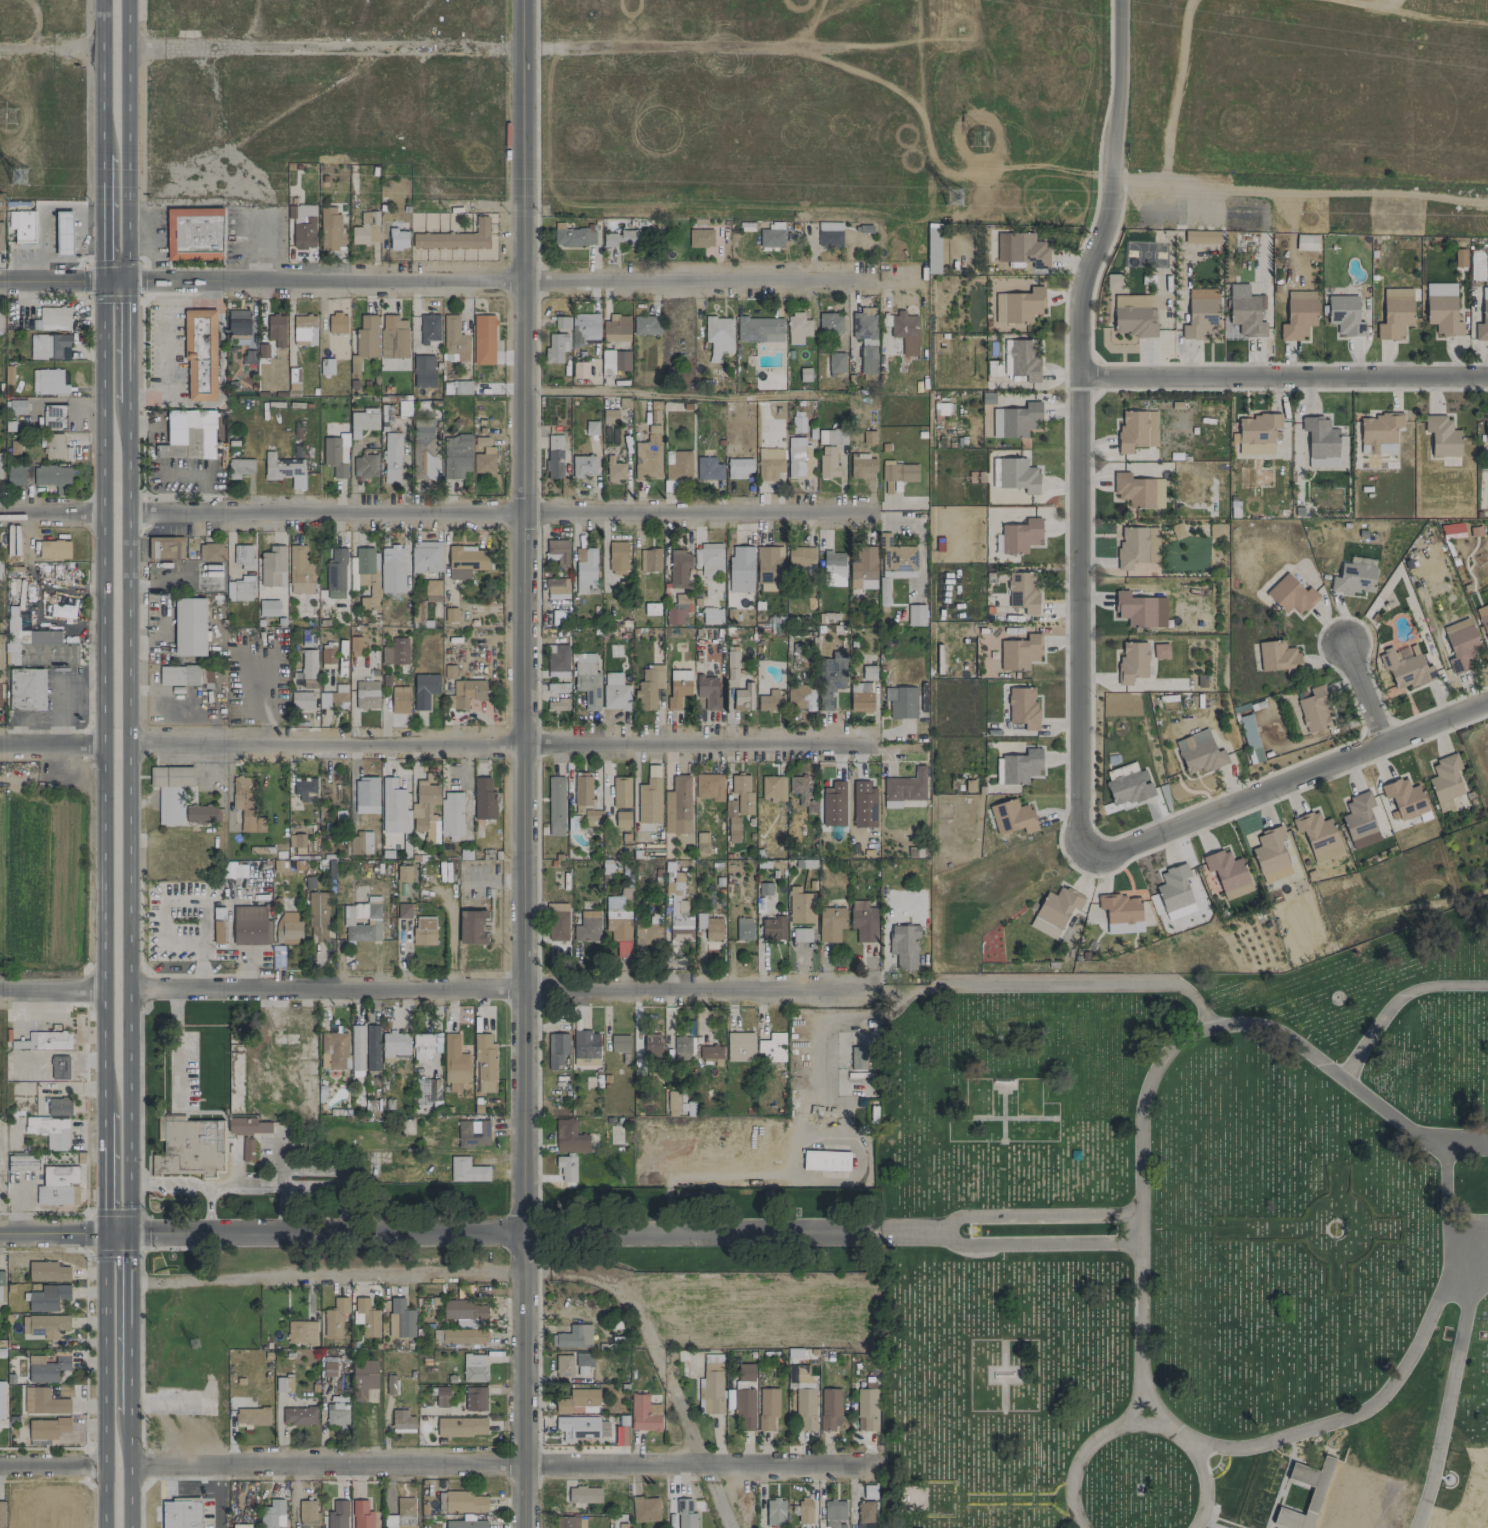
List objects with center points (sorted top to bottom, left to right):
road: (524, 25)
road: (50, 49)
road: (711, 50)
road: (327, 53)
road: (101, 68)
power tower: (7, 116)
power tower: (977, 139)
road: (127, 140)
power tower: (18, 177)
road: (1299, 192)
power tower: (954, 198)
road: (102, 208)
building: (22, 225)
building: (304, 226)
building: (331, 229)
building: (366, 229)
building: (193, 233)
building: (64, 234)
building: (829, 234)
building: (771, 235)
building: (1, 236)
building: (572, 236)
building: (455, 237)
building: (700, 237)
building: (1202, 237)
building: (624, 238)
building: (398, 239)
building: (1306, 242)
building: (1021, 249)
building: (933, 250)
building: (1459, 258)
building: (1476, 266)
road: (510, 280)
road: (62, 281)
traffic signals: (103, 281)
traffic signals: (126, 281)
building: (1114, 281)
building: (1018, 305)
building: (1442, 308)
building: (1245, 310)
building: (1395, 313)
building: (1298, 315)
building: (1345, 316)
building: (1133, 317)
building: (1483, 317)
building: (0, 318)
building: (54, 318)
building: (1200, 318)
building: (237, 322)
building: (562, 322)
building: (830, 322)
building: (336, 323)
building: (646, 325)
building: (429, 328)
building: (616, 328)
building: (797, 328)
building: (276, 329)
building: (584, 329)
building: (759, 329)
building: (304, 330)
building: (905, 332)
building: (718, 336)
road: (165, 337)
building: (393, 337)
building: (455, 338)
building: (483, 339)
building: (865, 339)
building: (365, 341)
building: (47, 346)
road: (126, 347)
building: (555, 348)
building: (263, 350)
building: (200, 354)
building: (249, 356)
building: (1024, 359)
building: (614, 361)
building: (836, 363)
building: (327, 366)
building: (579, 369)
building: (424, 371)
building: (804, 374)
road: (1283, 375)
building: (294, 381)
building: (48, 382)
building: (456, 387)
road: (690, 397)
building: (15, 407)
building: (386, 412)
building: (54, 416)
building: (610, 416)
building: (1015, 420)
building: (363, 421)
building: (798, 424)
road: (1078, 424)
building: (591, 427)
building: (1486, 428)
building: (1137, 430)
building: (1379, 432)
building: (1257, 433)
building: (176, 436)
building: (1442, 436)
building: (831, 437)
building: (868, 437)
building: (1320, 442)
building: (13, 447)
building: (56, 447)
building: (422, 448)
building: (336, 454)
building: (456, 455)
building: (554, 456)
building: (647, 456)
building: (483, 457)
building: (798, 457)
building: (391, 458)
building: (828, 462)
building: (0, 464)
building: (770, 464)
building: (677, 465)
building: (365, 466)
building: (583, 466)
building: (862, 466)
building: (239, 467)
building: (738, 468)
building: (614, 469)
building: (708, 469)
building: (284, 470)
building: (898, 473)
building: (15, 474)
building: (1014, 474)
building: (52, 477)
building: (1138, 490)
road: (51, 514)
road: (500, 515)
building: (1452, 530)
building: (1020, 536)
building: (1137, 546)
building: (166, 548)
building: (53, 549)
building: (558, 551)
building: (210, 552)
building: (243, 556)
building: (426, 556)
building: (617, 558)
building: (800, 558)
building: (649, 560)
building: (710, 560)
building: (466, 561)
building: (740, 564)
building: (768, 564)
building: (895, 564)
building: (272, 566)
building: (392, 568)
building: (679, 568)
building: (833, 568)
building: (0, 569)
building: (299, 569)
building: (863, 569)
building: (585, 570)
building: (335, 574)
building: (367, 574)
building: (211, 577)
building: (1354, 578)
building: (557, 587)
building: (240, 589)
building: (432, 590)
building: (1022, 591)
building: (1291, 596)
building: (682, 602)
building: (268, 607)
building: (651, 609)
building: (1135, 609)
building: (451, 614)
building: (915, 615)
building: (675, 616)
building: (712, 616)
building: (559, 617)
building: (1483, 619)
building: (12, 620)
building: (189, 626)
building: (1461, 645)
building: (44, 648)
building: (1160, 651)
building: (395, 652)
building: (1019, 652)
building: (557, 654)
building: (327, 656)
building: (1278, 657)
building: (1132, 662)
building: (308, 664)
building: (731, 664)
building: (868, 667)
building: (1405, 667)
building: (449, 671)
building: (178, 675)
building: (830, 678)
building: (587, 680)
building: (303, 682)
building: (557, 687)
building: (649, 687)
building: (677, 687)
building: (26, 688)
road: (103, 688)
building: (424, 689)
road: (1362, 690)
building: (707, 691)
building: (0, 692)
road: (62, 692)
building: (467, 692)
building: (615, 692)
building: (366, 694)
building: (800, 697)
building: (861, 697)
building: (742, 698)
building: (333, 699)
building: (301, 700)
building: (399, 700)
building: (770, 700)
building: (901, 702)
building: (557, 705)
building: (1023, 707)
building: (1250, 738)
road: (51, 745)
road: (494, 745)
building: (1199, 752)
building: (1020, 766)
road: (1287, 780)
building: (1445, 781)
building: (709, 787)
building: (772, 787)
building: (904, 788)
building: (1129, 788)
road: (521, 789)
building: (305, 790)
building: (621, 791)
building: (170, 792)
building: (582, 792)
building: (742, 793)
building: (801, 793)
building: (366, 795)
road: (667, 796)
building: (483, 798)
building: (1404, 798)
building: (649, 801)
road: (634, 803)
building: (246, 804)
building: (680, 804)
building: (834, 804)
building: (863, 804)
building: (555, 806)
building: (425, 810)
building: (200, 814)
building: (451, 815)
building: (394, 816)
building: (592, 817)
building: (1011, 817)
building: (622, 819)
building: (732, 820)
building: (1359, 820)
road: (129, 824)
building: (1318, 836)
building: (360, 843)
building: (702, 844)
building: (1270, 855)
building: (233, 868)
building: (1225, 869)
building: (403, 873)
road: (493, 879)
building: (764, 888)
building: (1236, 891)
building: (1175, 892)
road: (180, 904)
building: (800, 906)
building: (403, 910)
building: (678, 911)
building: (1054, 911)
building: (1121, 913)
road: (495, 916)
building: (317, 917)
building: (362, 920)
building: (619, 920)
building: (863, 921)
building: (558, 922)
building: (831, 924)
building: (250, 925)
building: (587, 926)
building: (709, 926)
building: (471, 927)
building: (773, 927)
building: (287, 928)
building: (743, 928)
building: (423, 931)
building: (218, 934)
building: (801, 934)
building: (647, 935)
building: (904, 946)
road: (214, 950)
road: (1085, 985)
road: (52, 990)
road: (502, 992)
road: (1396, 1001)
building: (49, 1040)
road: (1175, 1041)
building: (618, 1043)
building: (424, 1045)
building: (394, 1046)
building: (651, 1046)
building: (740, 1046)
building: (372, 1047)
road: (176, 1048)
building: (585, 1048)
building: (683, 1048)
building: (772, 1048)
building: (557, 1049)
building: (334, 1050)
building: (711, 1053)
building: (857, 1058)
building: (454, 1063)
building: (485, 1064)
building: (59, 1067)
building: (427, 1090)
building: (678, 1103)
building: (59, 1106)
building: (247, 1126)
building: (50, 1131)
building: (472, 1133)
building: (568, 1133)
building: (190, 1146)
building: (247, 1149)
building: (826, 1160)
building: (22, 1162)
road: (104, 1165)
building: (566, 1169)
building: (465, 1170)
road: (19, 1174)
road: (1444, 1178)
road: (193, 1184)
building: (58, 1186)
road: (245, 1186)
road: (309, 1187)
road: (1039, 1216)
road: (870, 1228)
road: (886, 1228)
road: (430, 1232)
road: (916, 1232)
traffic signals: (104, 1235)
traffic signals: (130, 1235)
road: (870, 1235)
road: (886, 1235)
road: (1040, 1243)
park: (1188, 1243)
road: (1444, 1256)
road: (1440, 1263)
building: (47, 1272)
road: (507, 1274)
building: (1, 1285)
road: (1476, 1286)
building: (47, 1297)
building: (464, 1309)
building: (334, 1317)
building: (366, 1317)
building: (402, 1317)
building: (44, 1325)
road: (131, 1329)
building: (301, 1332)
building: (464, 1336)
building: (574, 1336)
building: (332, 1341)
building: (582, 1363)
building: (328, 1366)
building: (564, 1366)
building: (47, 1367)
building: (474, 1367)
building: (745, 1372)
building: (364, 1378)
road: (103, 1381)
building: (327, 1381)
building: (284, 1383)
building: (390, 1384)
building: (712, 1387)
building: (802, 1394)
building: (442, 1397)
building: (474, 1398)
building: (1, 1399)
building: (43, 1401)
building: (578, 1401)
building: (866, 1406)
building: (744, 1408)
building: (767, 1408)
road: (1129, 1408)
building: (829, 1409)
building: (337, 1413)
building: (643, 1413)
building: (298, 1415)
road: (1160, 1415)
building: (252, 1416)
road: (277, 1417)
road: (1340, 1417)
road: (1443, 1417)
building: (402, 1421)
road: (1137, 1424)
building: (461, 1426)
building: (580, 1427)
building: (47, 1428)
building: (621, 1435)
road: (503, 1465)
road: (52, 1466)
road: (131, 1476)
building: (869, 1492)
building: (584, 1494)
building: (1315, 1496)
road: (218, 1497)
building: (461, 1502)
building: (645, 1509)
building: (804, 1510)
building: (775, 1512)
building: (834, 1512)
building: (180, 1513)
building: (308, 1513)
building: (1, 1514)
building: (272, 1514)
building: (361, 1514)
building: (401, 1514)
building: (685, 1514)
building: (865, 1514)
building: (337, 1515)
building: (566, 1521)
building: (466, 1524)
building: (622, 1525)
building: (241, 1526)

